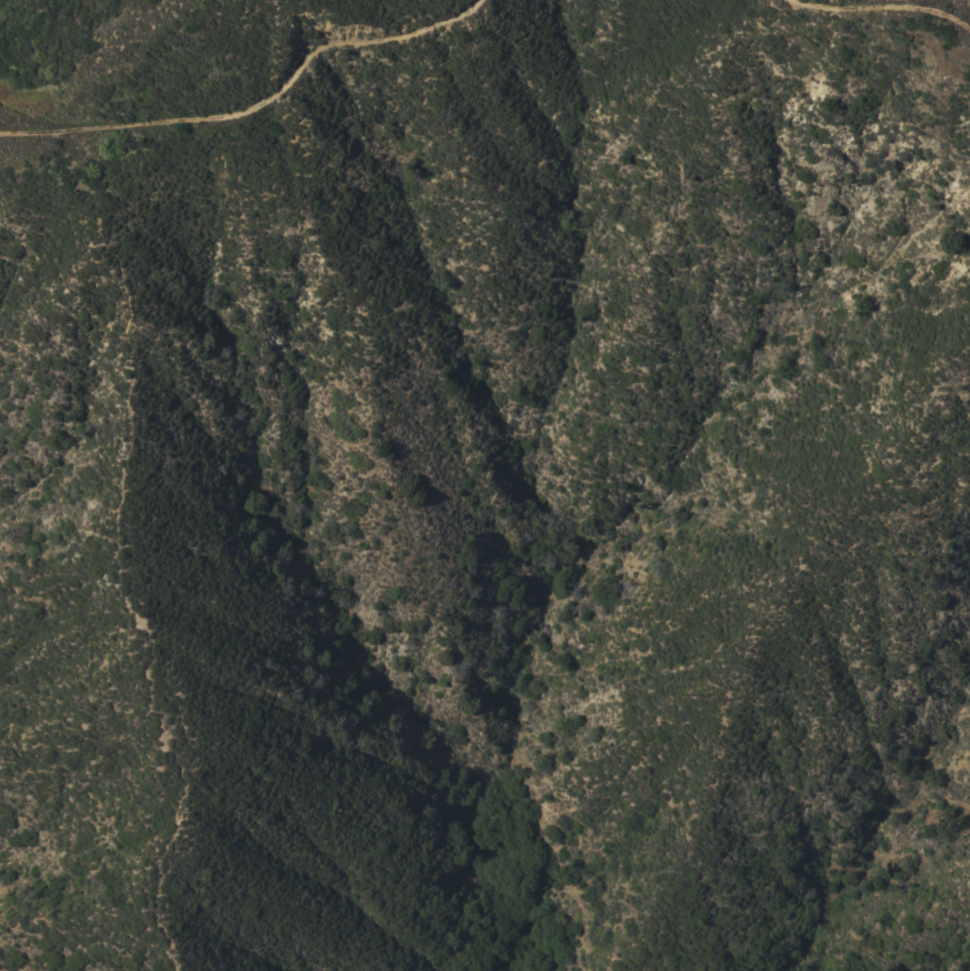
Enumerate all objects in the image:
road: (879, 12)
road: (270, 108)
park: (440, 833)

